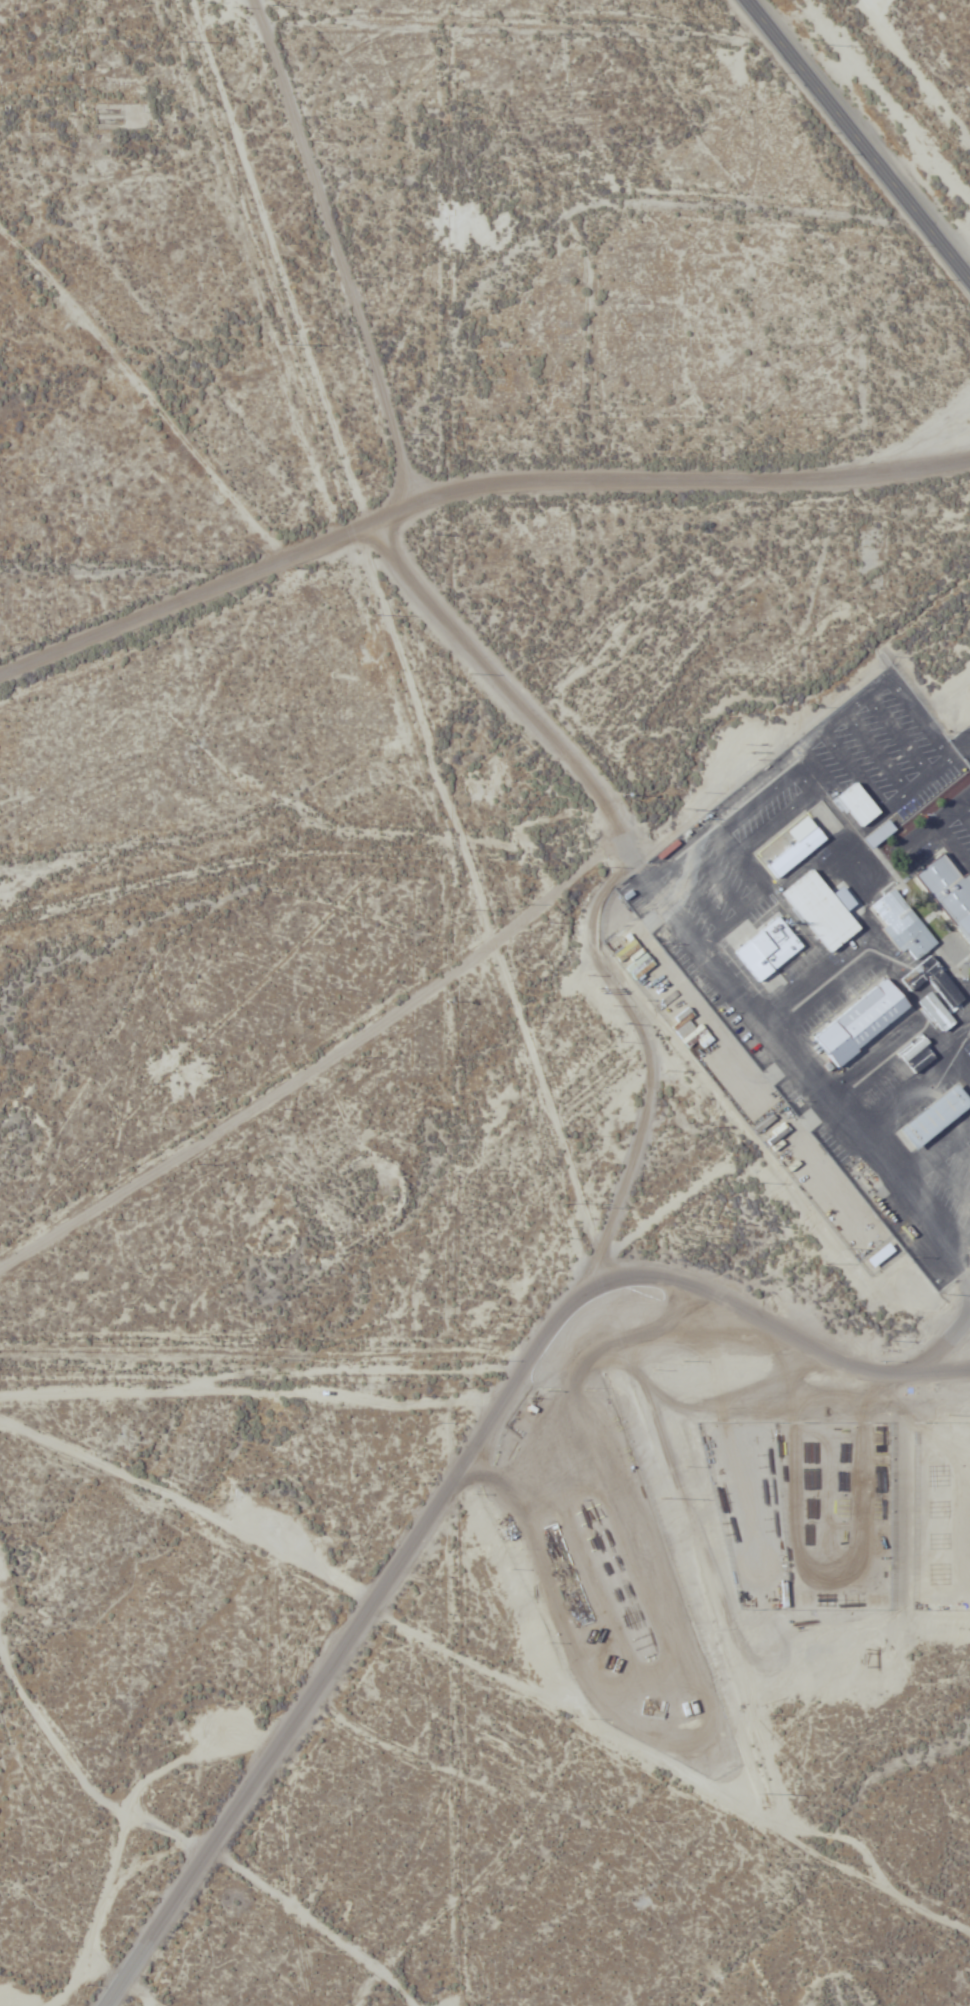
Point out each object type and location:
road: (261, 10)
road: (519, 18)
road: (856, 141)
road: (336, 240)
road: (866, 347)
road: (142, 390)
road: (467, 492)
building: (857, 804)
building: (791, 847)
road: (828, 849)
road: (637, 850)
building: (949, 892)
building: (822, 910)
building: (900, 924)
road: (872, 931)
building: (766, 949)
building: (934, 992)
building: (861, 1021)
building: (691, 1034)
building: (916, 1053)
building: (768, 1073)
building: (897, 1075)
building: (935, 1117)
building: (879, 1254)
road: (483, 1368)
road: (394, 1570)
road: (669, 1771)

